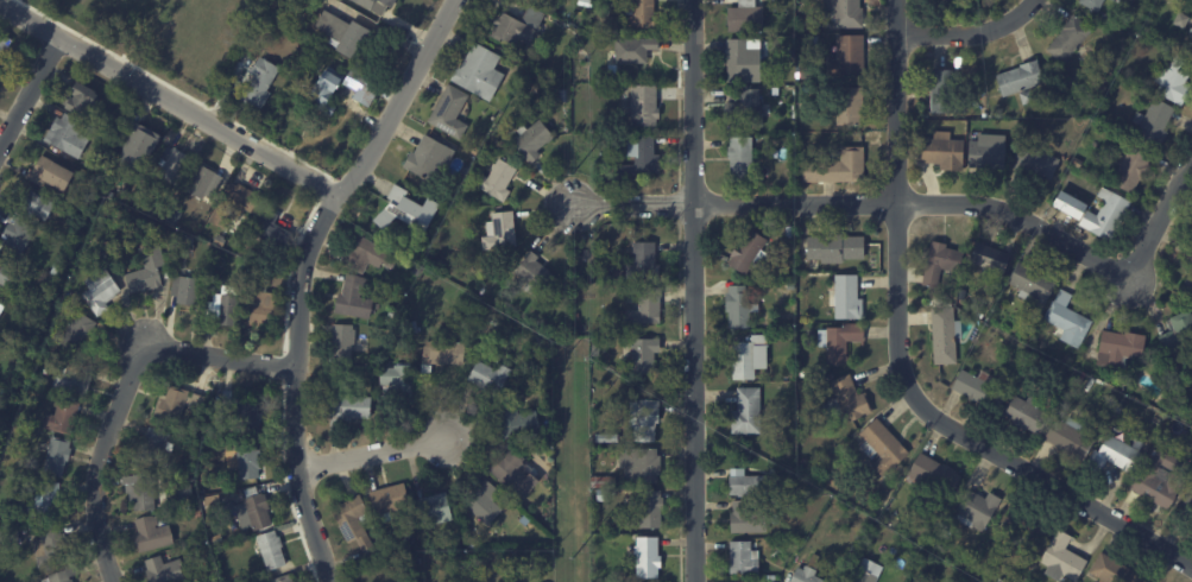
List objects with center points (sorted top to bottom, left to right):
building: (1108, 0)
building: (1115, 0)
building: (358, 1)
building: (954, 1)
building: (1090, 5)
building: (383, 6)
building: (843, 13)
building: (645, 14)
building: (742, 18)
building: (801, 21)
power tower: (570, 23)
building: (521, 26)
building: (275, 30)
park: (172, 31)
road: (975, 33)
building: (1190, 34)
building: (348, 36)
building: (1066, 40)
building: (5, 45)
building: (1190, 46)
building: (638, 49)
building: (845, 57)
building: (1049, 61)
building: (742, 63)
building: (483, 71)
building: (1020, 78)
building: (1172, 81)
building: (263, 84)
building: (366, 90)
road: (29, 93)
building: (940, 93)
building: (563, 95)
building: (1024, 99)
road: (169, 100)
building: (87, 101)
road: (403, 101)
building: (990, 103)
building: (648, 105)
building: (845, 106)
building: (449, 109)
building: (746, 110)
building: (1152, 125)
building: (71, 134)
building: (535, 140)
building: (101, 143)
building: (143, 147)
building: (941, 153)
building: (986, 156)
building: (431, 159)
building: (641, 160)
building: (737, 162)
building: (177, 164)
building: (1035, 164)
building: (1074, 164)
building: (833, 169)
building: (1129, 170)
building: (53, 175)
building: (500, 181)
building: (207, 182)
road: (920, 204)
building: (36, 205)
road: (633, 205)
building: (1068, 205)
building: (239, 207)
building: (408, 209)
road: (900, 211)
building: (176, 215)
building: (1104, 216)
road: (1161, 219)
building: (276, 230)
building: (504, 230)
building: (788, 230)
building: (1191, 233)
building: (19, 236)
building: (222, 238)
building: (188, 245)
building: (443, 246)
building: (832, 248)
building: (745, 252)
building: (374, 254)
building: (988, 258)
building: (648, 260)
building: (939, 262)
building: (151, 271)
building: (418, 271)
building: (55, 274)
building: (536, 274)
building: (619, 276)
building: (8, 278)
building: (748, 284)
building: (1029, 284)
building: (1187, 289)
building: (189, 290)
road: (695, 290)
building: (103, 291)
building: (74, 296)
building: (845, 297)
building: (0, 298)
building: (357, 298)
building: (226, 303)
building: (43, 304)
building: (264, 305)
building: (649, 306)
building: (736, 306)
building: (393, 314)
building: (977, 315)
building: (578, 317)
building: (1065, 320)
building: (80, 331)
building: (1178, 334)
building: (941, 335)
building: (14, 340)
building: (840, 341)
building: (346, 343)
building: (542, 344)
building: (1116, 348)
building: (597, 350)
building: (447, 353)
power tower: (572, 353)
building: (1026, 354)
building: (648, 355)
road: (220, 356)
building: (743, 356)
building: (802, 374)
building: (76, 378)
building: (493, 378)
building: (401, 384)
road: (296, 387)
building: (977, 390)
building: (846, 399)
building: (181, 404)
building: (352, 409)
building: (744, 411)
building: (1115, 412)
building: (1026, 413)
building: (246, 415)
building: (65, 417)
building: (648, 419)
building: (521, 420)
building: (1067, 437)
building: (607, 438)
building: (45, 447)
building: (160, 448)
building: (879, 449)
road: (373, 455)
building: (1111, 455)
building: (61, 456)
road: (99, 460)
building: (251, 461)
building: (644, 466)
building: (513, 470)
building: (931, 476)
building: (1158, 479)
building: (607, 482)
building: (750, 483)
building: (144, 491)
road: (1060, 491)
building: (606, 495)
building: (1188, 498)
building: (392, 499)
building: (190, 500)
building: (215, 500)
building: (42, 501)
building: (487, 502)
building: (793, 502)
building: (655, 508)
building: (973, 510)
building: (253, 511)
building: (436, 511)
building: (744, 518)
building: (357, 523)
building: (1191, 526)
building: (156, 534)
building: (1027, 534)
building: (10, 539)
building: (220, 539)
building: (923, 542)
building: (474, 544)
building: (53, 549)
building: (275, 550)
building: (497, 553)
building: (381, 555)
building: (854, 556)
building: (651, 557)
building: (740, 557)
building: (1061, 557)
building: (168, 570)
building: (807, 571)
building: (1111, 571)
building: (869, 572)
building: (67, 575)
building: (767, 577)
building: (286, 578)
building: (214, 581)
building: (746, 581)
building: (999, 581)

